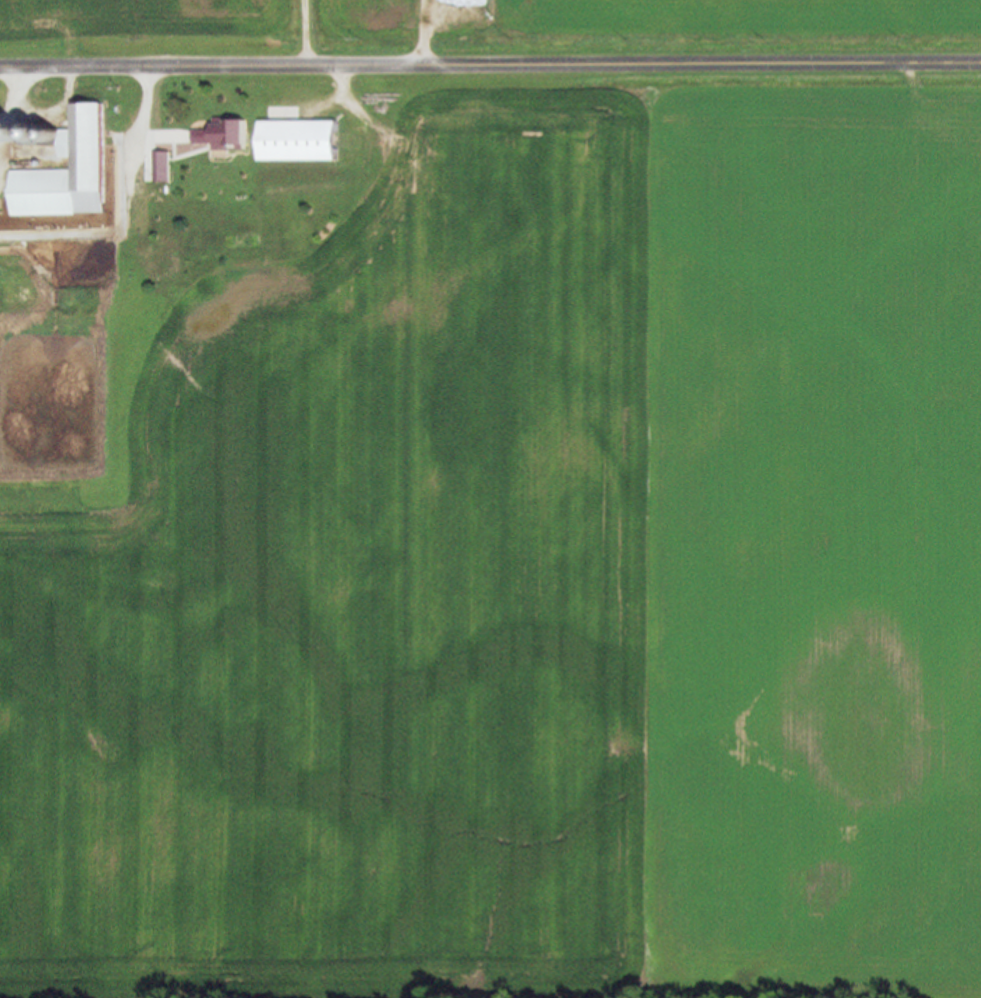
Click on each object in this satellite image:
road: (304, 32)
road: (490, 63)
road: (148, 117)
road: (4, 121)
building: (228, 137)
building: (305, 142)
building: (156, 163)
building: (95, 165)

